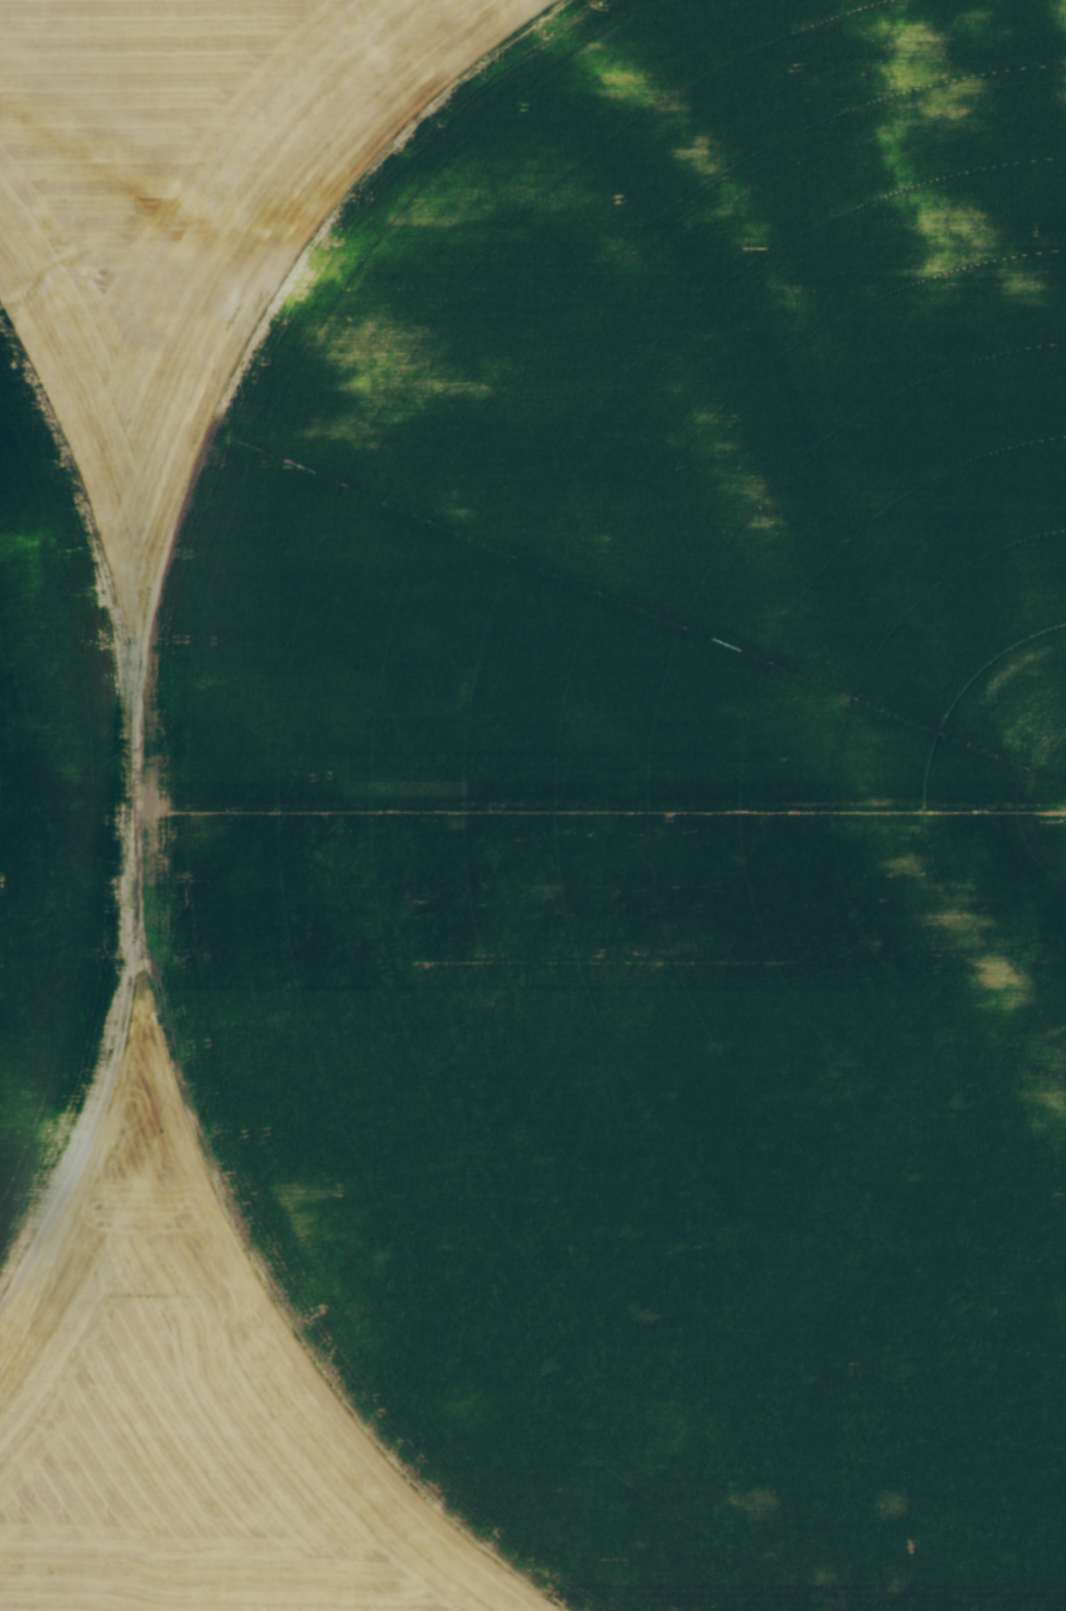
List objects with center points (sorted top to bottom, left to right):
crop: (533, 805)

